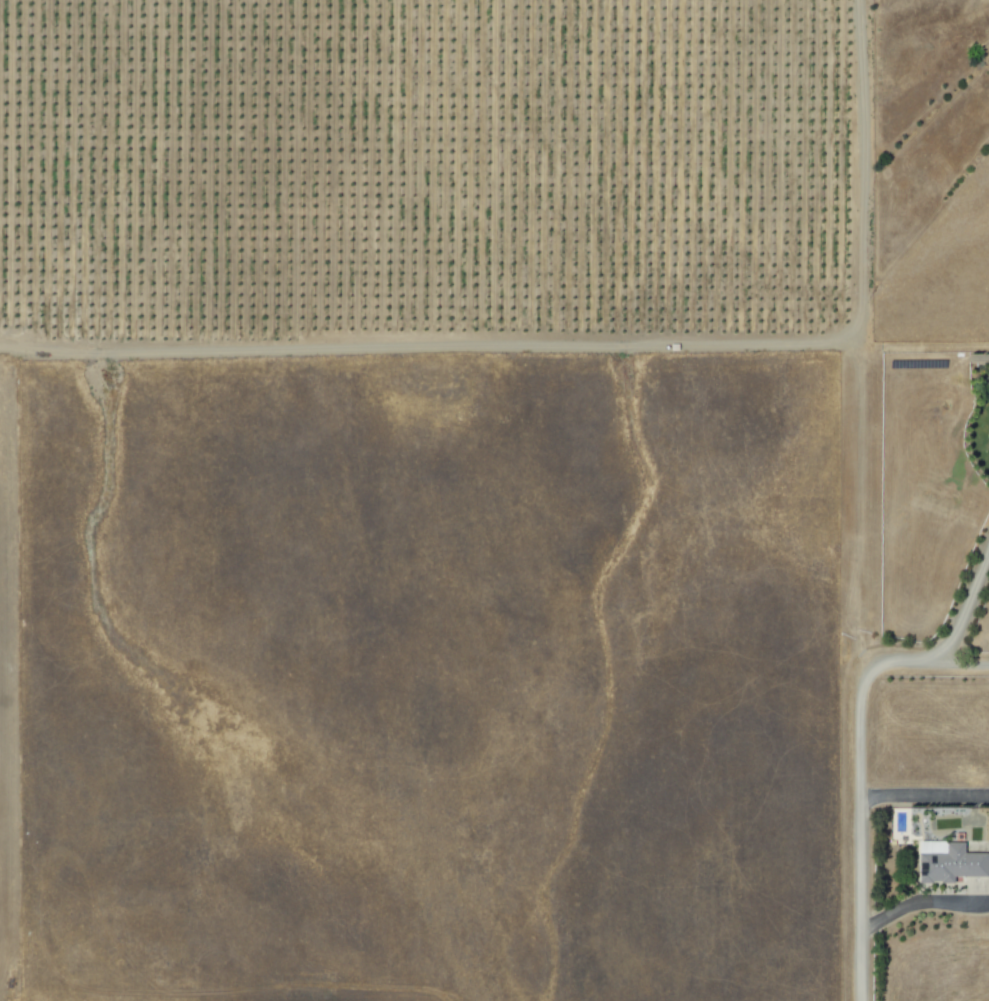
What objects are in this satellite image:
building: (987, 437)
road: (963, 663)
road: (857, 735)
road: (922, 796)
building: (945, 862)
road: (920, 902)

